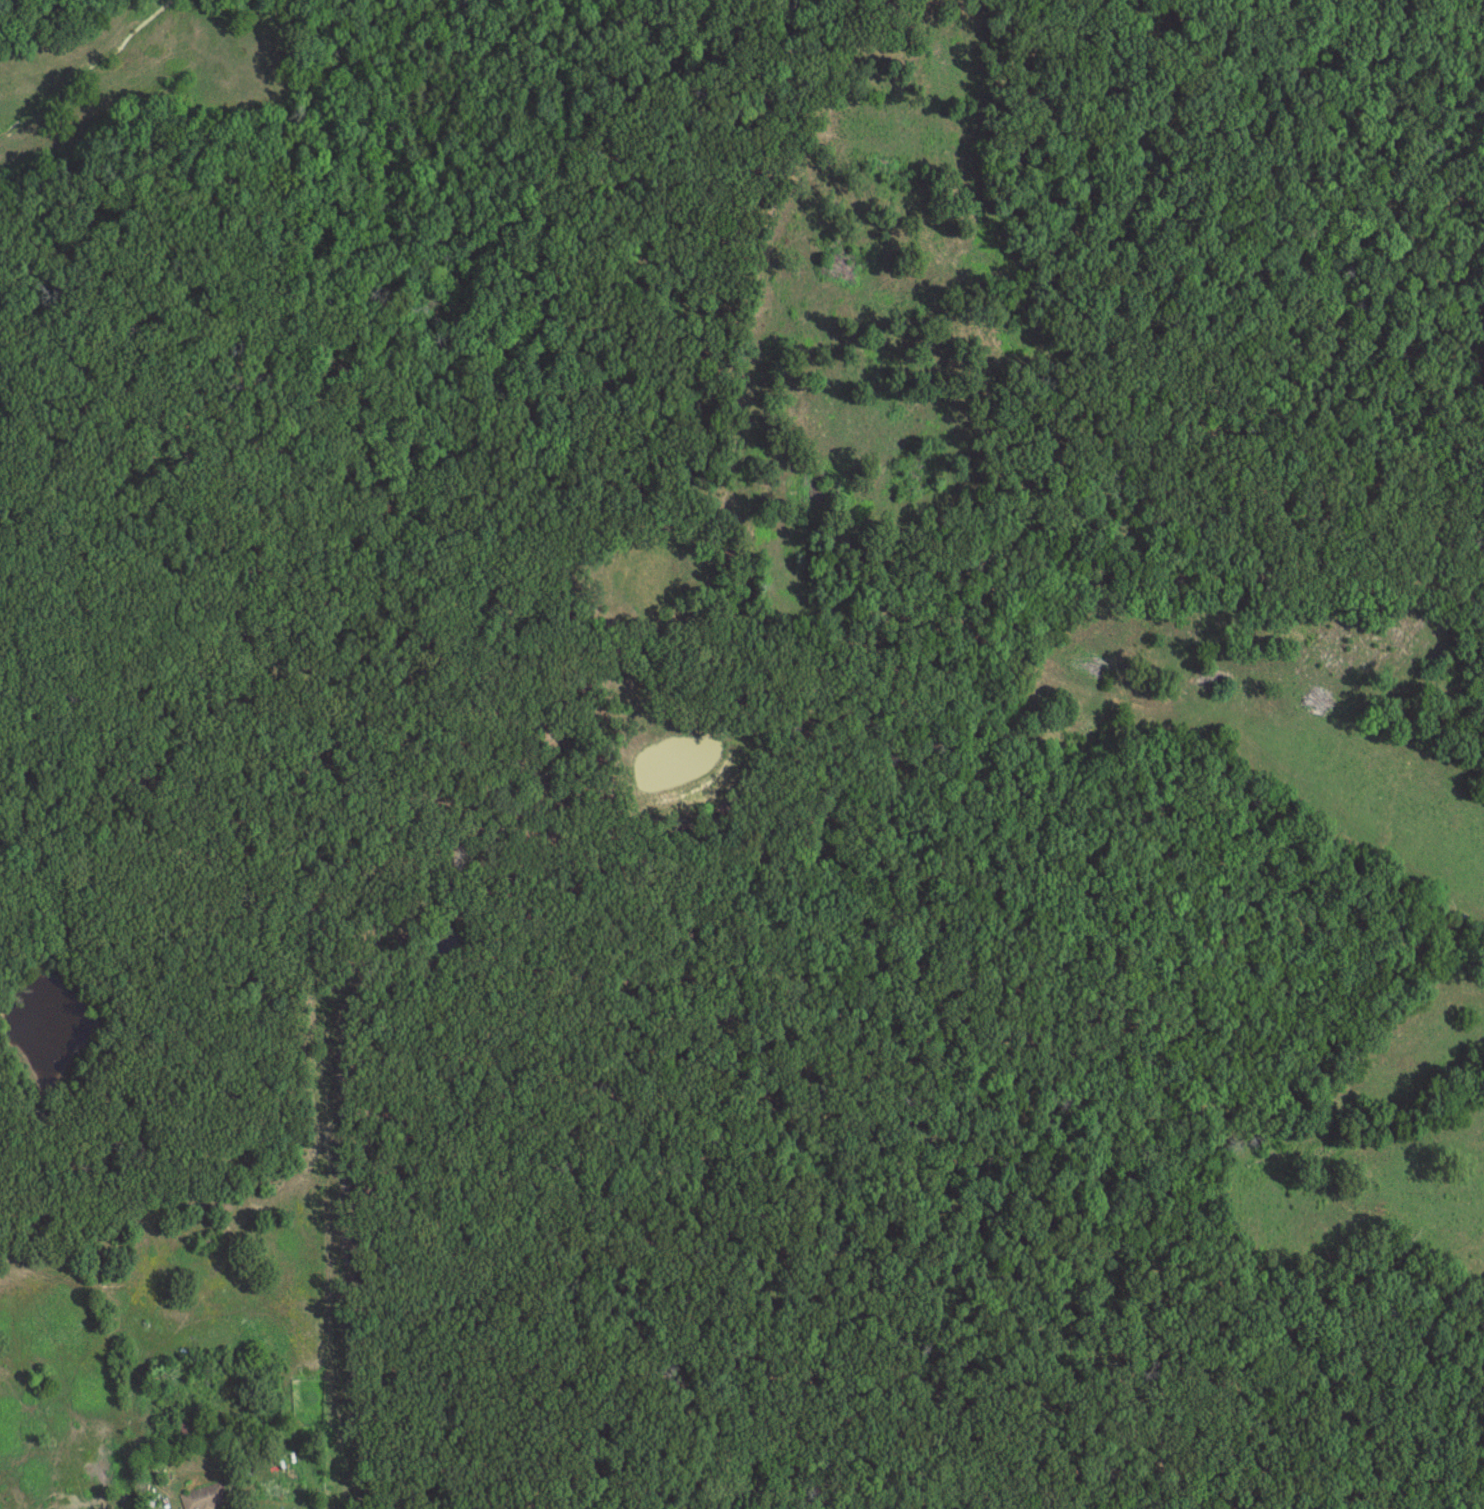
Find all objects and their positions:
building: (280, 1489)
building: (206, 1497)
building: (150, 1505)

